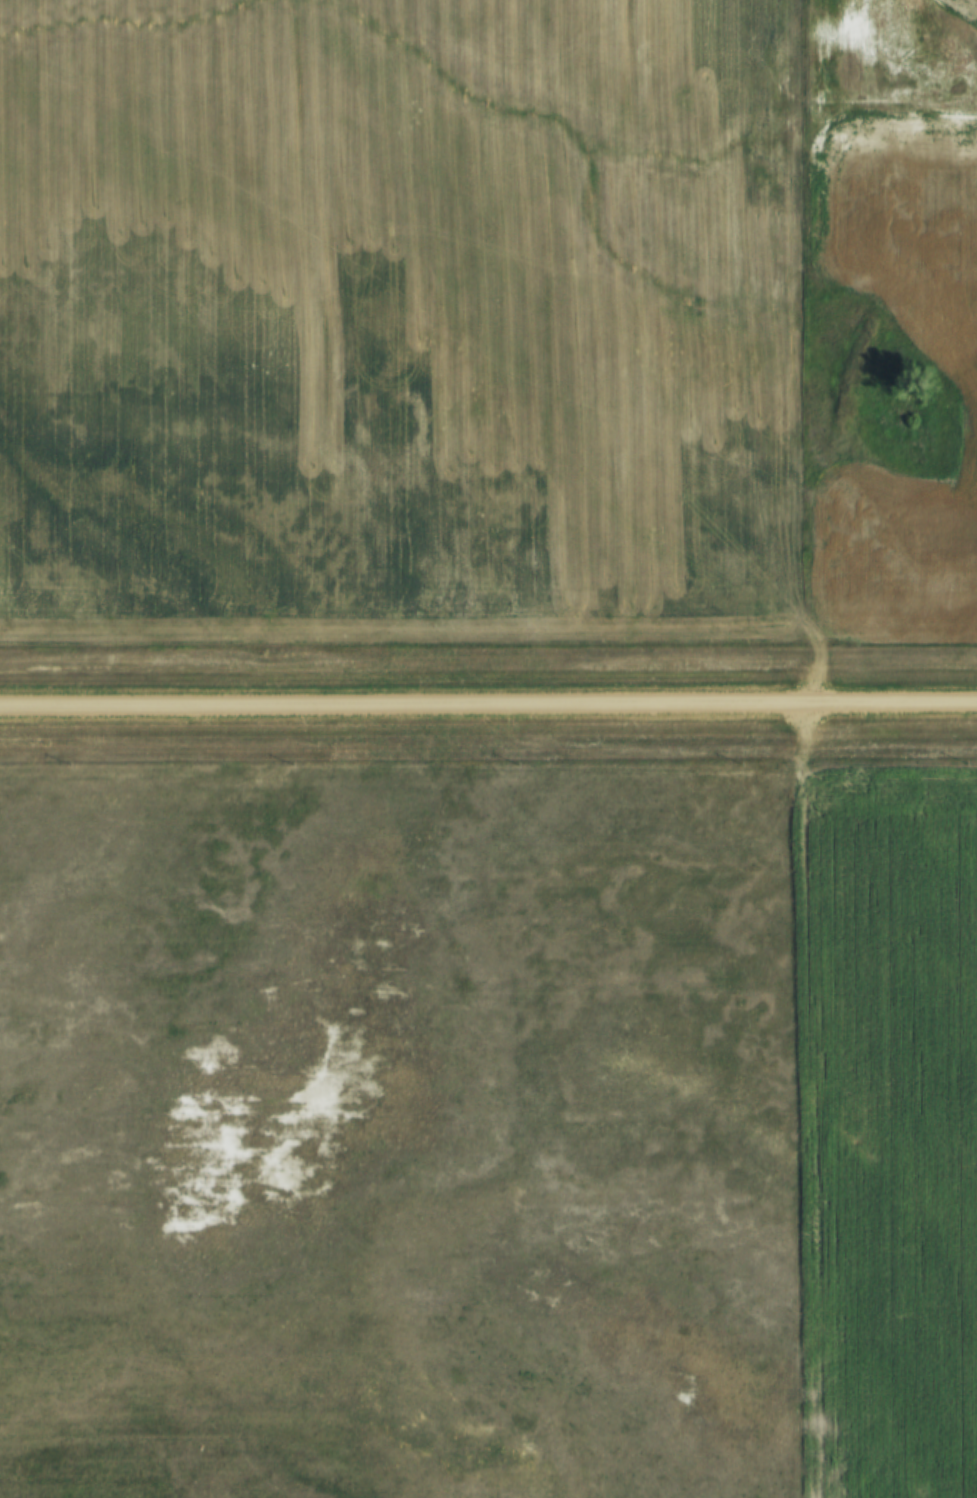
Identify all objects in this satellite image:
road: (488, 705)

